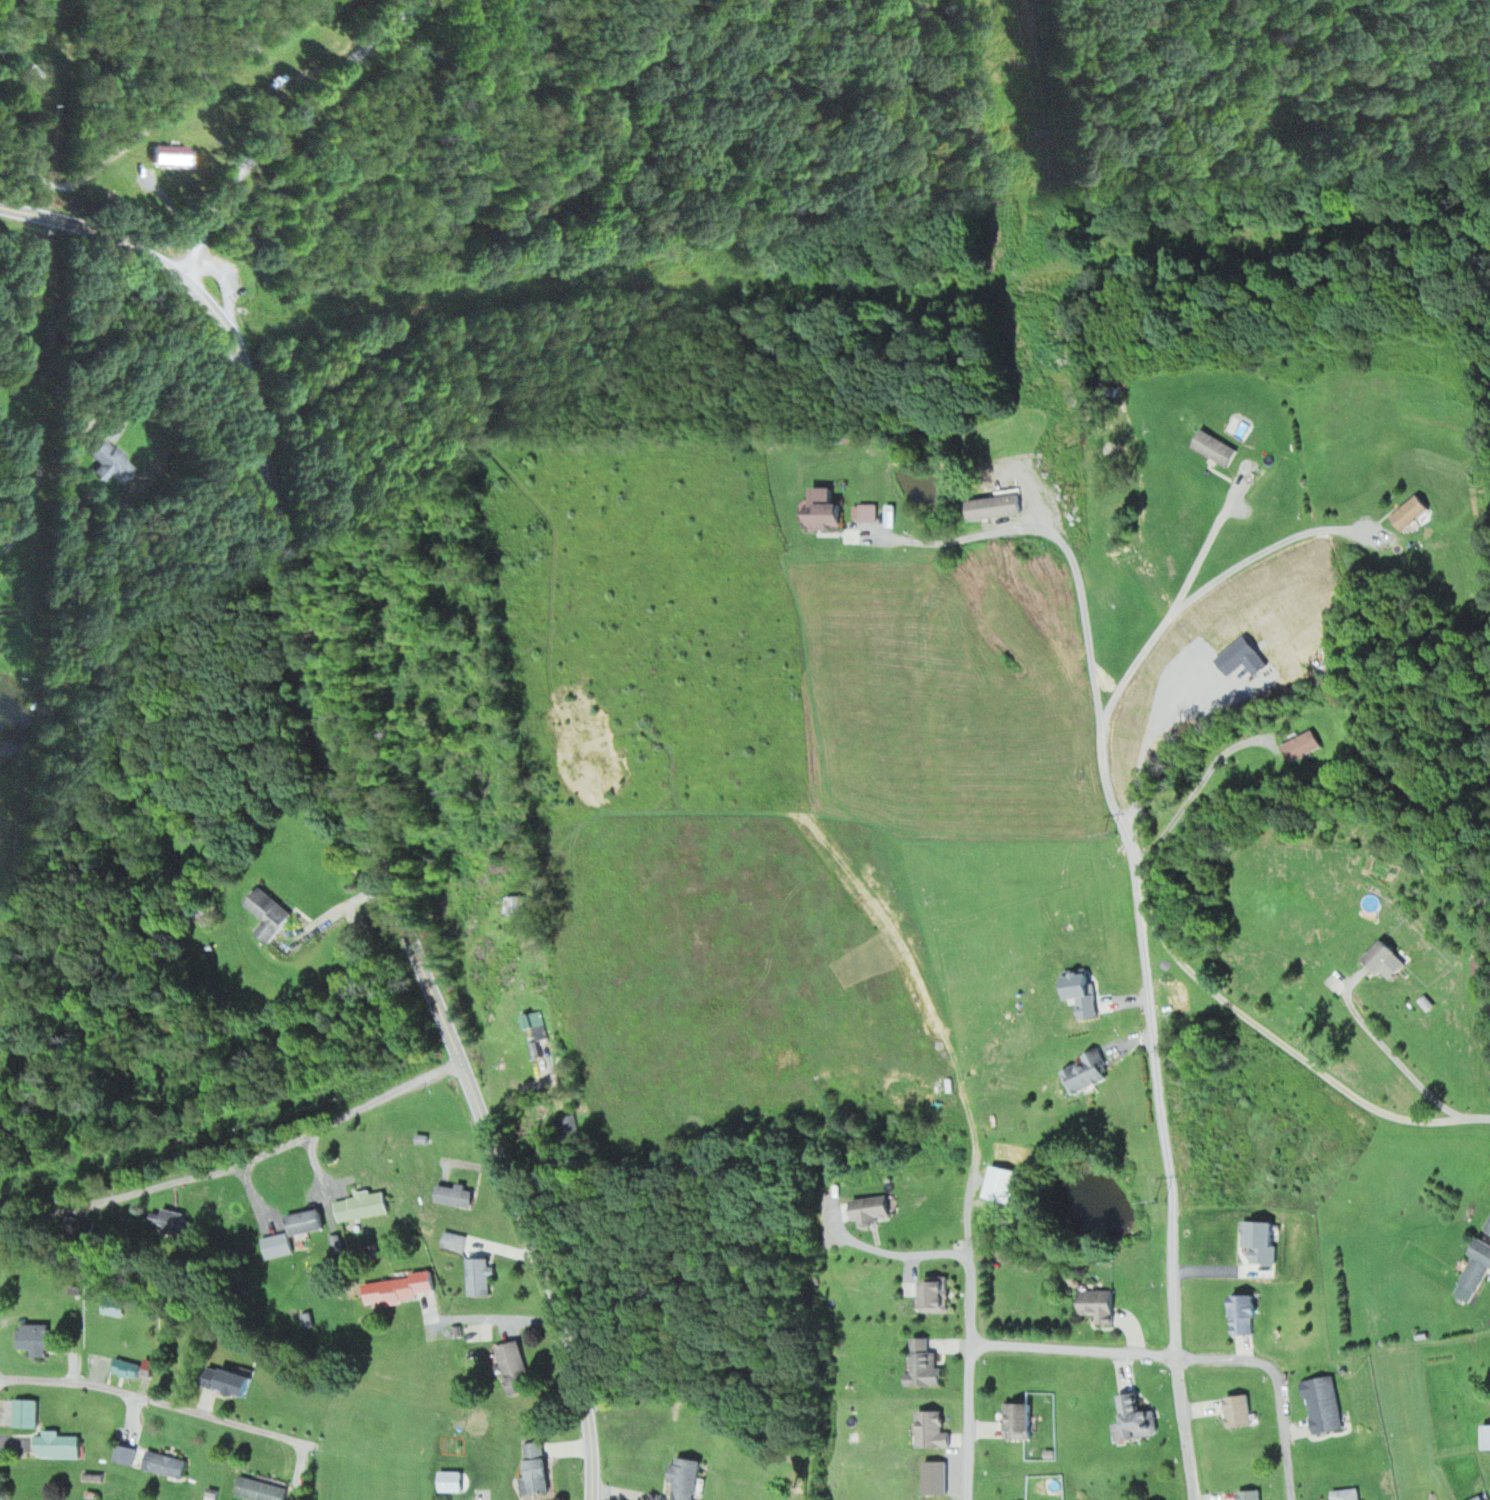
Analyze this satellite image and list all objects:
road: (288, 120)
building: (173, 154)
road: (101, 230)
road: (684, 285)
building: (1216, 447)
building: (112, 464)
building: (993, 507)
building: (866, 512)
building: (1411, 512)
building: (824, 515)
building: (1302, 746)
power tower: (1107, 833)
road: (390, 890)
building: (268, 914)
building: (1386, 960)
building: (1481, 968)
building: (535, 1032)
road: (1150, 1036)
road: (1283, 1043)
building: (1087, 1072)
road: (276, 1146)
building: (1001, 1184)
building: (452, 1195)
power tower: (1157, 1201)
building: (361, 1206)
building: (872, 1210)
road: (39, 1215)
building: (167, 1220)
building: (305, 1222)
building: (1487, 1226)
building: (452, 1242)
building: (1473, 1272)
building: (477, 1277)
building: (396, 1289)
building: (935, 1296)
building: (1098, 1305)
building: (113, 1307)
building: (1244, 1315)
road: (967, 1334)
building: (34, 1339)
road: (1071, 1349)
building: (924, 1365)
building: (513, 1368)
building: (125, 1369)
building: (228, 1382)
road: (1275, 1384)
road: (149, 1399)
building: (1322, 1405)
building: (1239, 1410)
building: (24, 1413)
building: (1137, 1418)
building: (1019, 1420)
building: (927, 1428)
building: (1487, 1437)
building: (55, 1444)
building: (148, 1459)
building: (534, 1468)
building: (685, 1476)
building: (258, 1489)
building: (1347, 1493)
building: (1250, 1494)
building: (1479, 1497)

